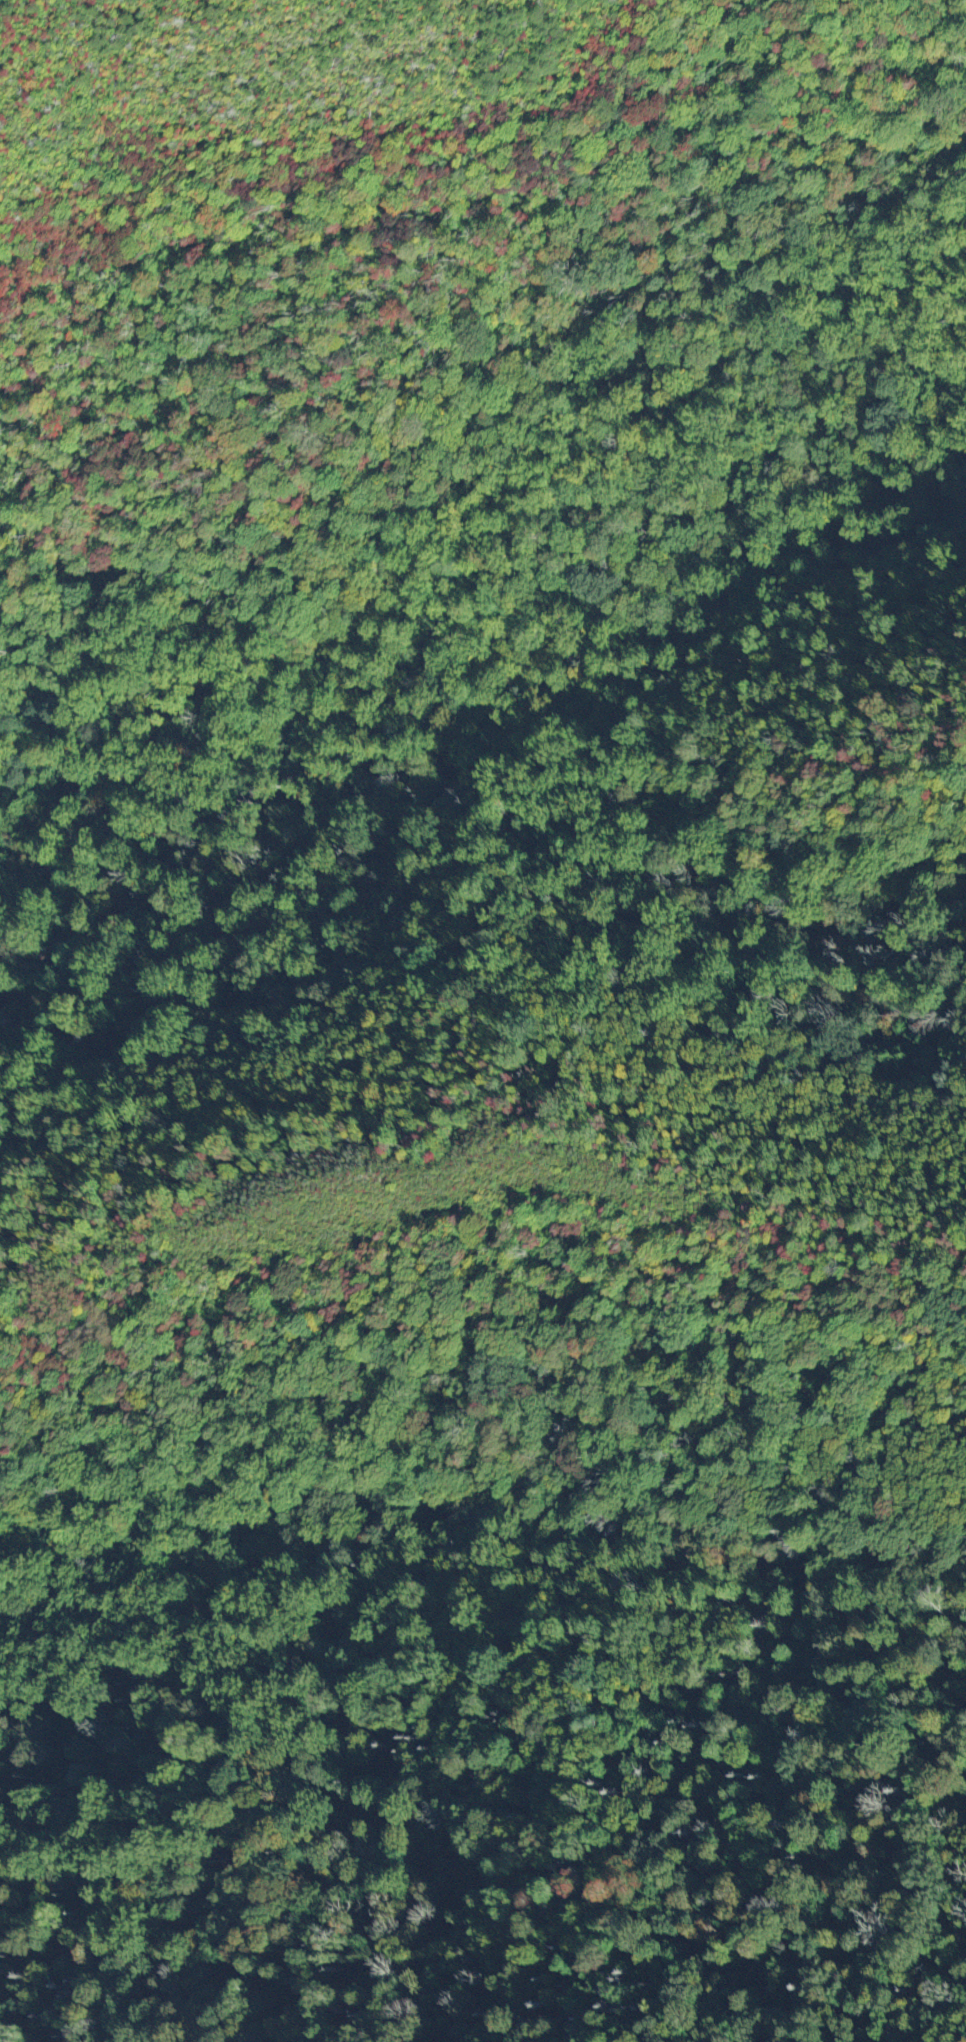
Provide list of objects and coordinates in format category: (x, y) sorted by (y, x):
road: (492, 723)

